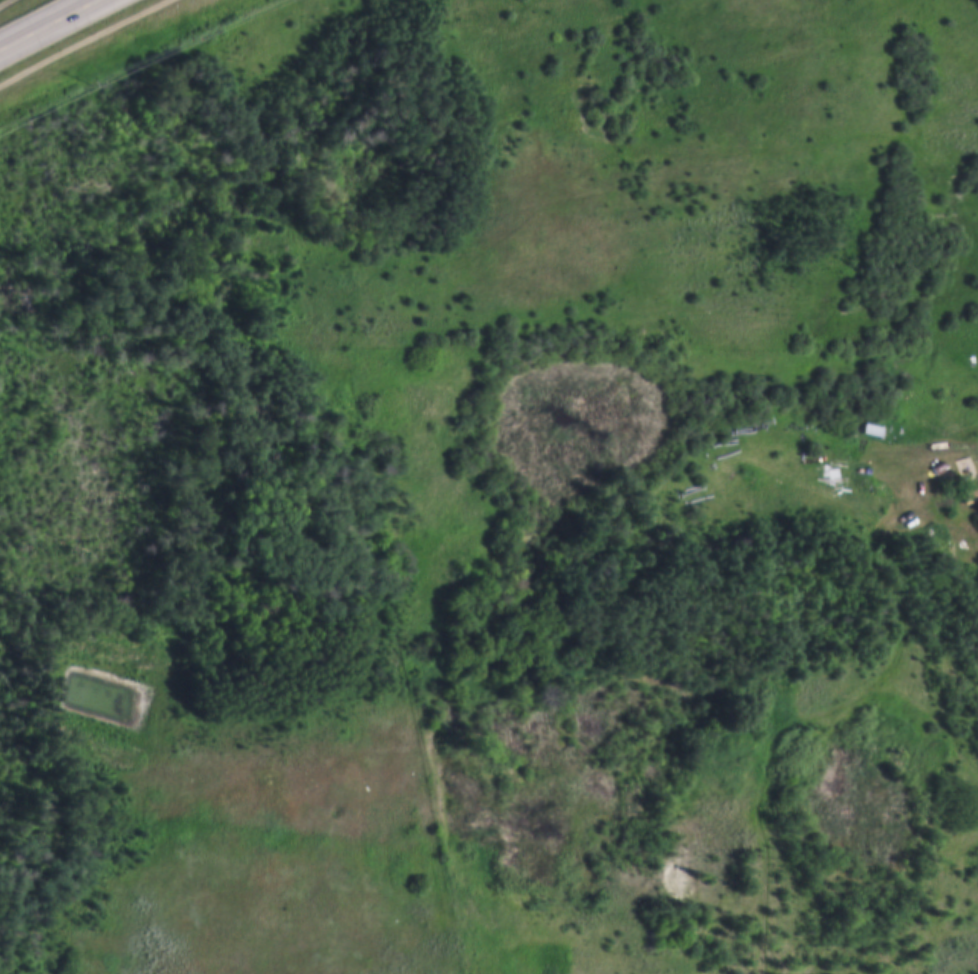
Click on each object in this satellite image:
road: (48, 23)
building: (872, 427)
building: (833, 470)
building: (899, 477)
road: (887, 962)

